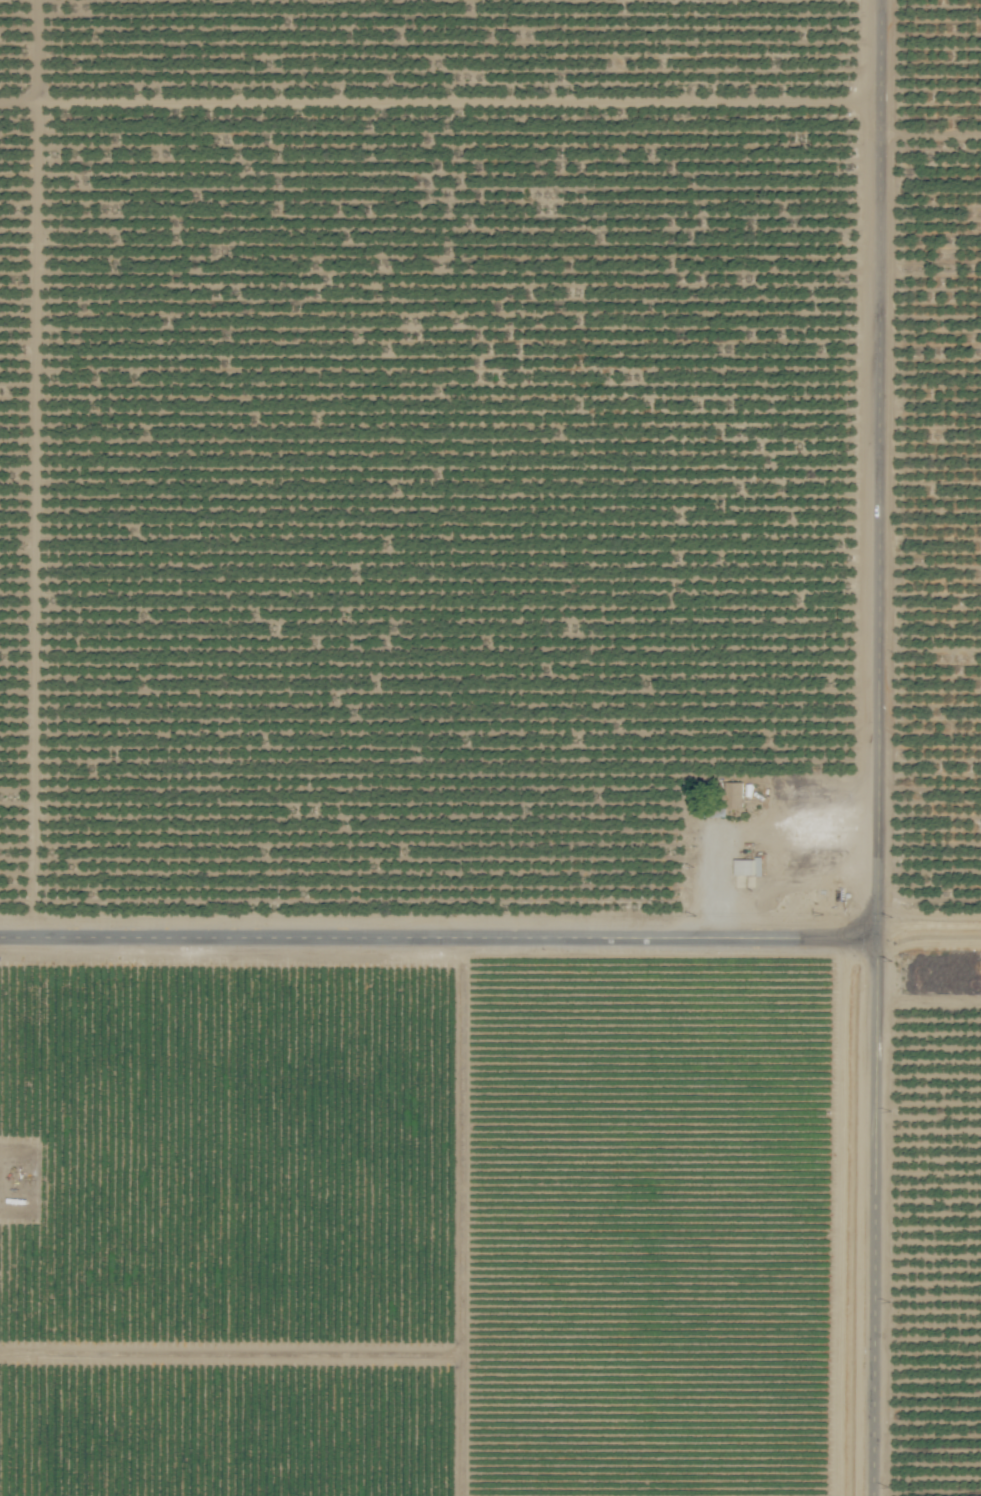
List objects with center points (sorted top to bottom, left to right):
road: (877, 747)
crop: (490, 748)
building: (734, 795)
building: (749, 866)
road: (438, 932)

